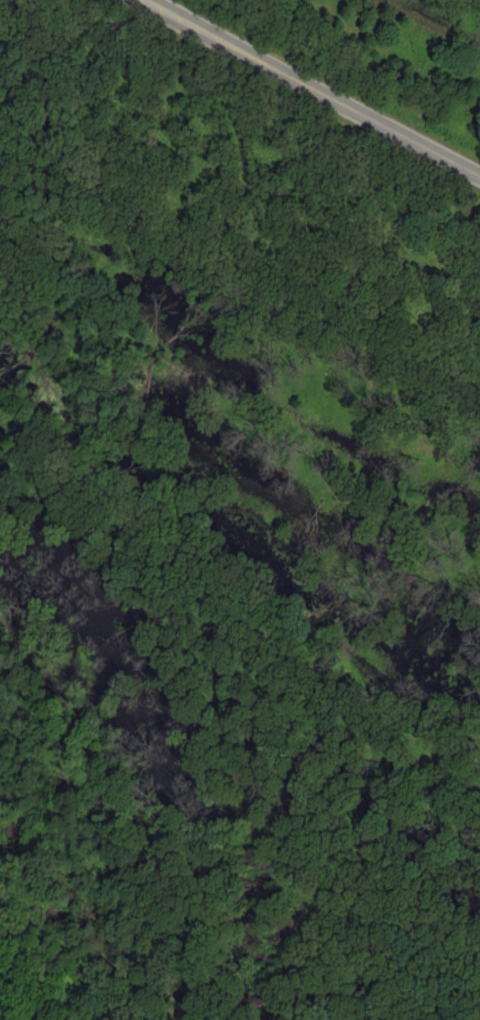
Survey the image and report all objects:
road: (312, 87)

